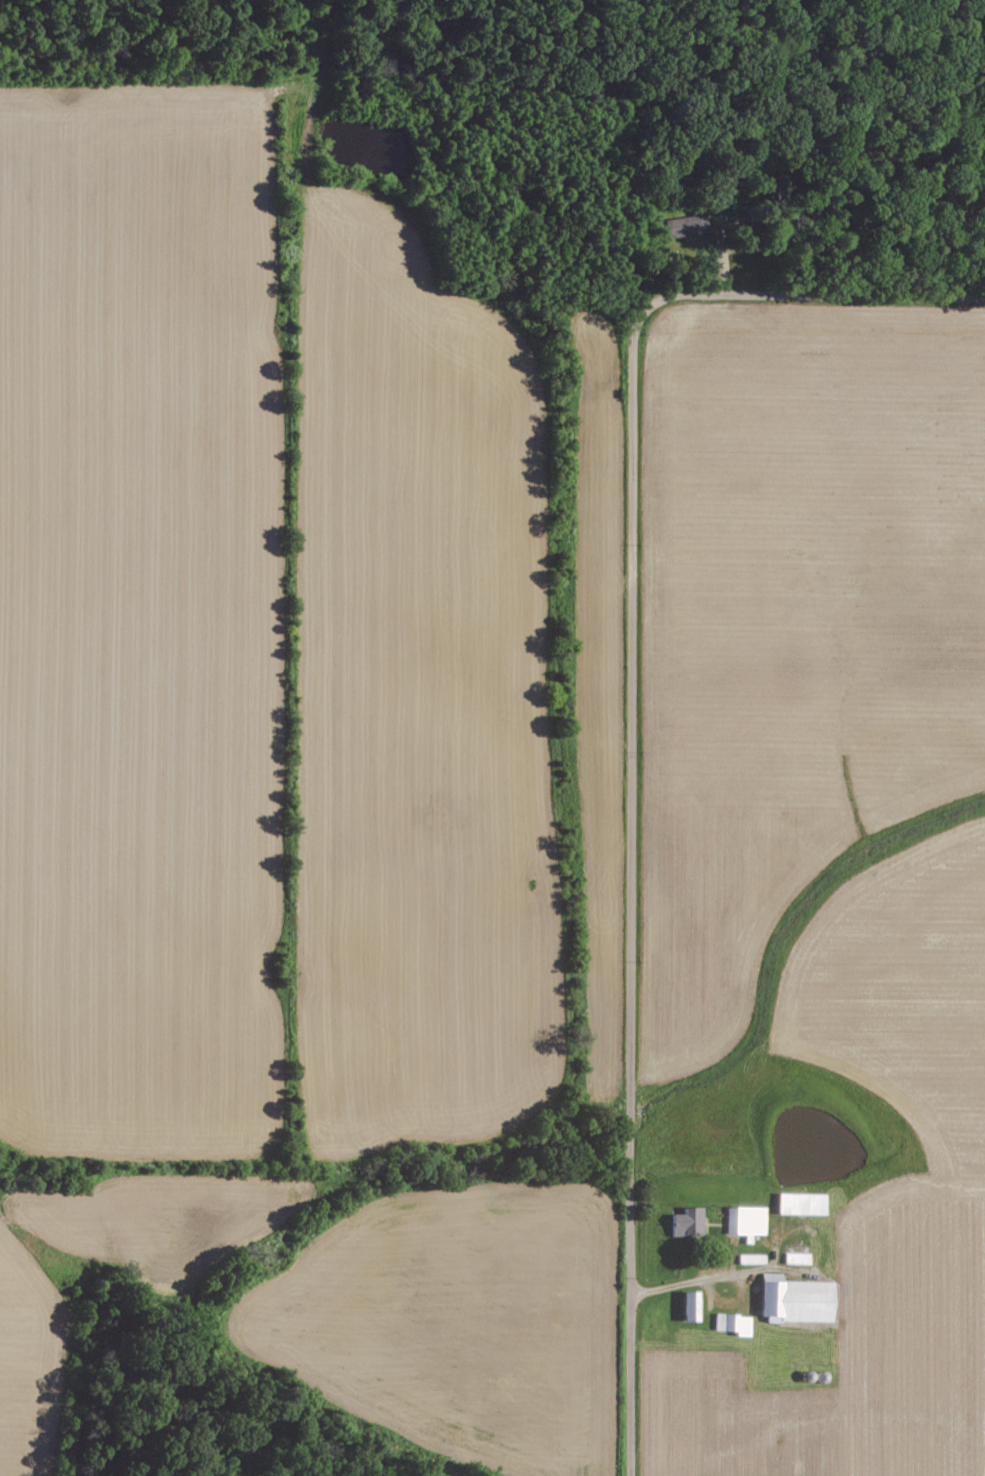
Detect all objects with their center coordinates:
road: (632, 719)
building: (800, 1203)
building: (745, 1220)
building: (689, 1223)
building: (794, 1300)
building: (688, 1307)
building: (731, 1323)

